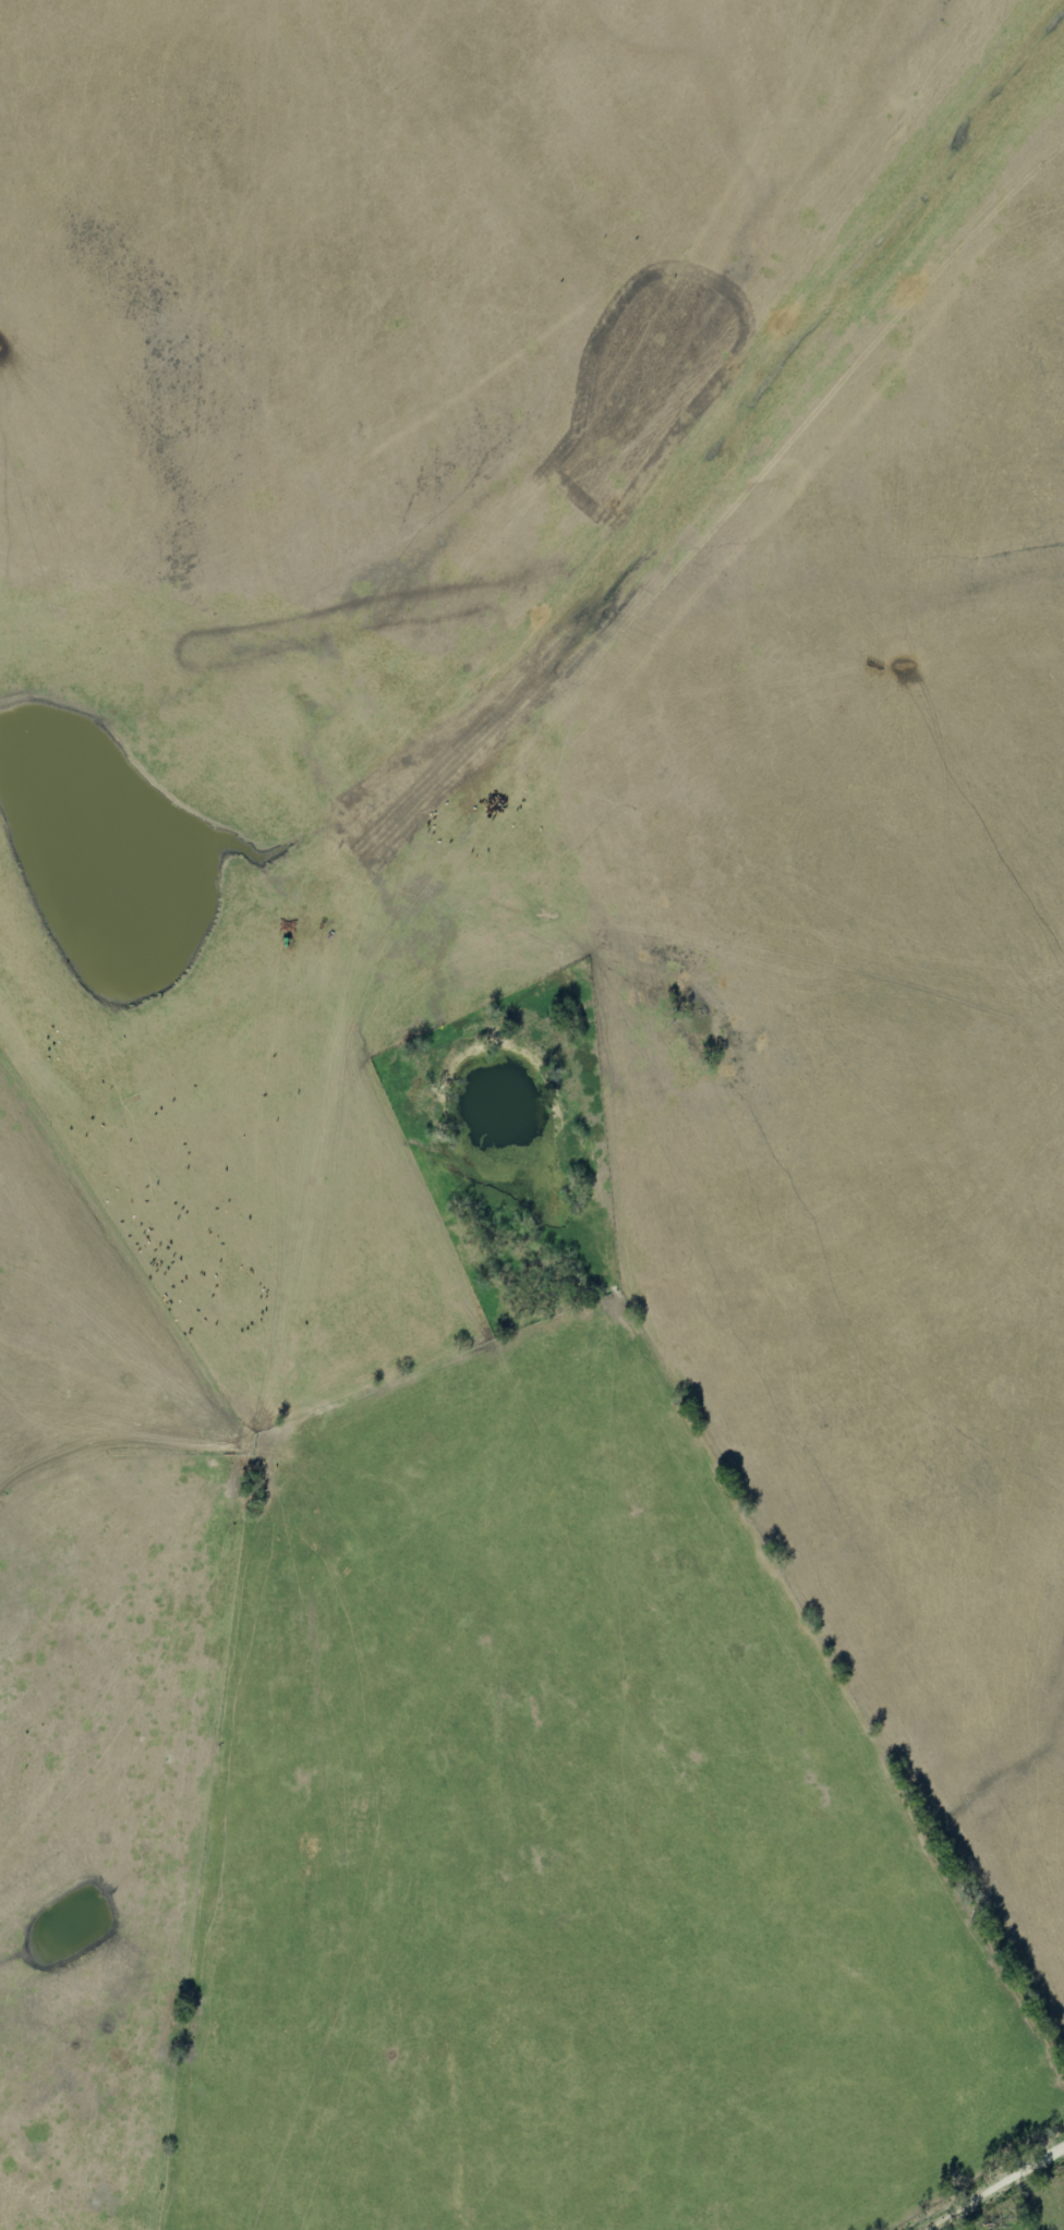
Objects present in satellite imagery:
road: (997, 2190)

